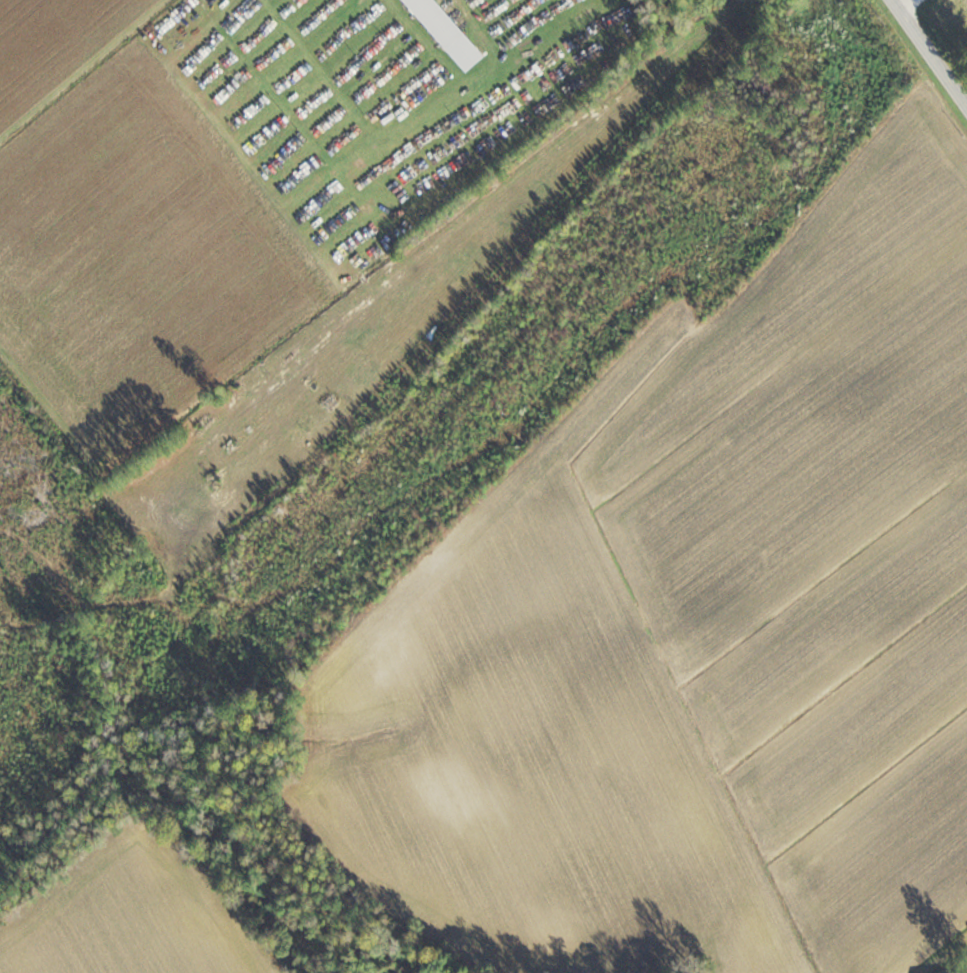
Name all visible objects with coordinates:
road: (912, 4)
road: (934, 47)
building: (943, 971)

